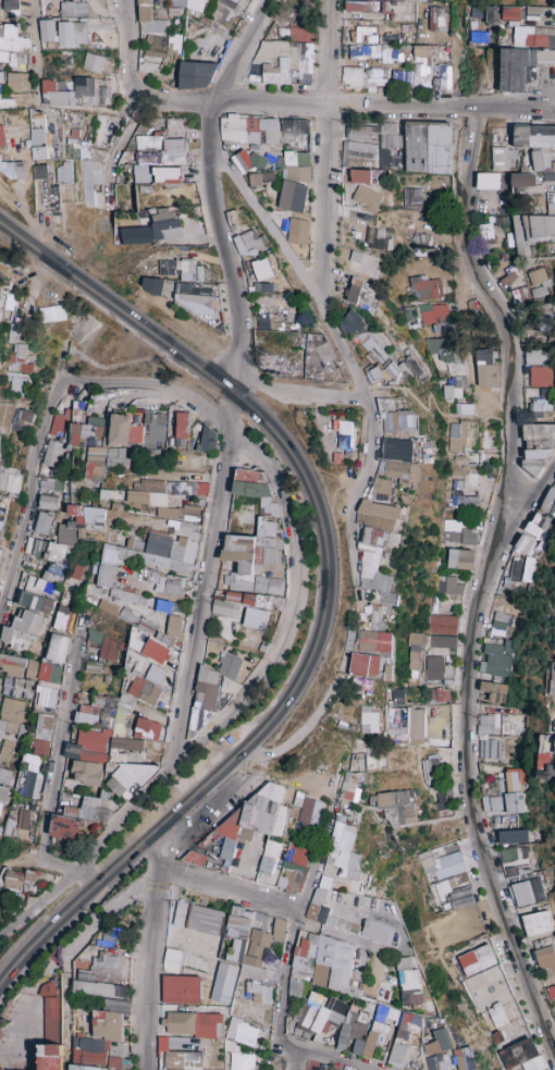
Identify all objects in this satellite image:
building: (415, 0)
building: (176, 2)
building: (227, 3)
building: (11, 4)
building: (195, 4)
building: (73, 9)
building: (373, 9)
building: (477, 11)
building: (218, 12)
building: (510, 13)
building: (539, 13)
building: (492, 15)
building: (436, 19)
road: (35, 30)
building: (47, 30)
building: (72, 33)
building: (299, 34)
building: (519, 35)
building: (12, 37)
building: (159, 45)
road: (124, 48)
road: (236, 49)
building: (372, 53)
building: (13, 59)
building: (94, 62)
building: (283, 62)
building: (522, 67)
building: (414, 70)
building: (196, 74)
building: (362, 76)
building: (442, 77)
building: (17, 82)
building: (73, 93)
building: (248, 130)
building: (294, 130)
building: (357, 136)
building: (534, 136)
building: (148, 140)
building: (38, 144)
building: (76, 148)
building: (428, 148)
building: (357, 150)
building: (296, 158)
building: (384, 158)
building: (503, 158)
building: (539, 160)
building: (146, 161)
building: (246, 161)
building: (13, 169)
building: (40, 171)
building: (62, 173)
building: (166, 174)
building: (296, 174)
building: (358, 175)
building: (548, 176)
building: (261, 177)
building: (488, 181)
building: (523, 182)
building: (89, 183)
building: (118, 192)
building: (292, 196)
building: (366, 197)
building: (410, 198)
building: (551, 204)
building: (165, 230)
building: (297, 231)
building: (483, 231)
building: (532, 231)
building: (135, 235)
building: (377, 239)
building: (419, 242)
building: (247, 243)
building: (362, 262)
building: (165, 268)
building: (262, 269)
building: (188, 270)
building: (507, 279)
building: (536, 283)
building: (151, 284)
building: (423, 287)
building: (0, 290)
building: (360, 295)
building: (7, 302)
building: (195, 302)
building: (51, 313)
building: (434, 316)
building: (409, 319)
building: (543, 320)
building: (349, 322)
building: (14, 332)
building: (373, 350)
building: (445, 352)
building: (323, 353)
building: (535, 356)
building: (16, 369)
building: (485, 369)
building: (393, 370)
building: (373, 374)
building: (539, 376)
building: (454, 386)
building: (539, 405)
building: (464, 408)
building: (22, 417)
building: (403, 421)
building: (58, 426)
building: (181, 429)
building: (137, 430)
building: (83, 431)
building: (344, 434)
building: (0, 435)
building: (456, 436)
building: (207, 439)
building: (540, 441)
building: (398, 450)
building: (50, 453)
building: (116, 458)
building: (336, 458)
building: (459, 460)
building: (92, 464)
building: (402, 471)
building: (9, 479)
building: (381, 483)
building: (49, 484)
building: (151, 484)
building: (187, 488)
building: (255, 491)
building: (460, 494)
building: (146, 497)
building: (47, 502)
building: (548, 502)
building: (174, 512)
building: (75, 513)
building: (378, 513)
building: (92, 516)
building: (41, 522)
building: (187, 527)
building: (64, 532)
building: (457, 532)
building: (525, 544)
building: (35, 546)
building: (0, 550)
building: (54, 552)
building: (146, 555)
building: (460, 558)
building: (252, 559)
building: (377, 564)
building: (515, 567)
building: (51, 573)
building: (166, 583)
building: (38, 586)
building: (452, 586)
building: (135, 598)
building: (35, 602)
building: (237, 603)
building: (108, 607)
building: (255, 617)
building: (62, 618)
building: (440, 624)
building: (499, 624)
building: (173, 625)
building: (21, 630)
building: (163, 638)
building: (374, 640)
building: (440, 641)
building: (57, 648)
building: (107, 648)
building: (414, 651)
building: (141, 657)
building: (496, 660)
building: (363, 665)
building: (91, 667)
building: (431, 667)
building: (384, 668)
building: (15, 671)
building: (153, 675)
building: (553, 678)
building: (47, 684)
building: (212, 687)
building: (143, 690)
building: (493, 691)
building: (437, 694)
building: (396, 696)
building: (9, 715)
building: (88, 724)
building: (41, 734)

